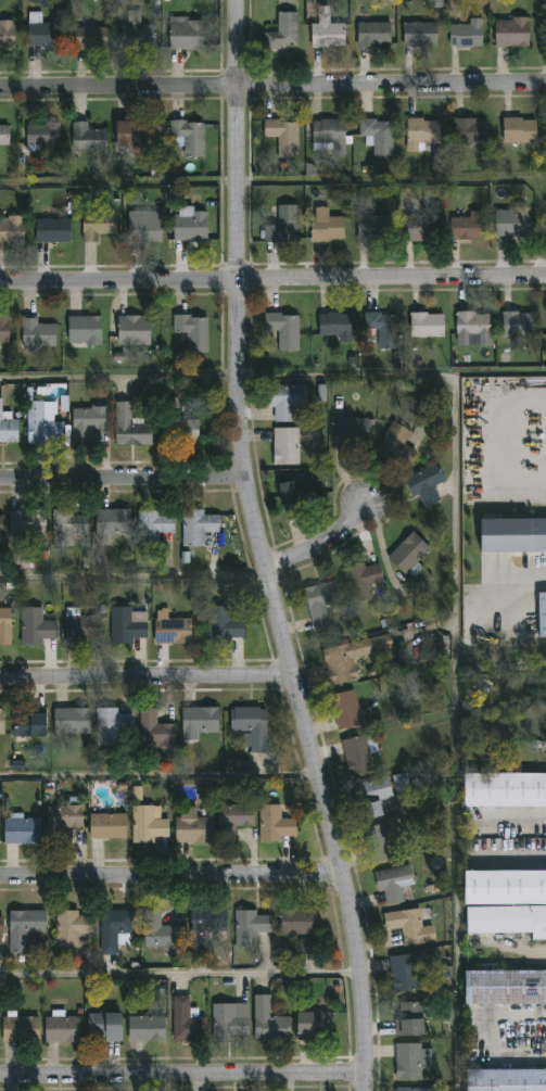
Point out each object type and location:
building: (436, 3)
building: (326, 33)
building: (282, 34)
building: (510, 34)
building: (465, 35)
building: (7, 36)
building: (43, 36)
building: (186, 36)
building: (419, 36)
building: (136, 37)
building: (372, 37)
building: (89, 39)
road: (272, 88)
building: (469, 131)
building: (518, 131)
building: (3, 135)
building: (41, 135)
building: (135, 135)
building: (421, 135)
building: (377, 136)
building: (188, 137)
building: (281, 137)
building: (328, 137)
building: (87, 139)
building: (439, 155)
building: (511, 223)
building: (190, 225)
building: (282, 226)
building: (325, 226)
building: (97, 227)
building: (144, 227)
building: (466, 228)
building: (373, 229)
building: (420, 229)
building: (11, 231)
building: (51, 231)
road: (272, 276)
building: (518, 324)
building: (472, 325)
building: (333, 326)
building: (426, 326)
building: (282, 330)
building: (383, 330)
building: (3, 331)
building: (84, 331)
building: (132, 331)
building: (192, 332)
building: (37, 335)
road: (119, 378)
building: (284, 401)
building: (86, 423)
building: (42, 424)
building: (128, 428)
building: (8, 429)
building: (179, 430)
building: (350, 432)
building: (284, 446)
building: (395, 446)
road: (120, 482)
building: (427, 484)
building: (295, 495)
building: (26, 522)
building: (112, 522)
building: (153, 524)
building: (0, 525)
building: (195, 525)
building: (67, 527)
building: (512, 535)
road: (320, 546)
road: (258, 549)
building: (407, 554)
building: (187, 557)
road: (515, 574)
road: (132, 575)
building: (420, 579)
building: (360, 581)
building: (319, 602)
building: (541, 614)
building: (4, 625)
building: (35, 625)
building: (128, 625)
building: (225, 625)
road: (455, 627)
building: (81, 629)
building: (169, 630)
building: (351, 658)
road: (145, 680)
building: (344, 710)
building: (71, 722)
building: (1, 723)
building: (198, 723)
building: (28, 725)
building: (111, 726)
building: (251, 728)
building: (153, 731)
building: (356, 756)
road: (157, 775)
building: (401, 783)
building: (504, 789)
building: (373, 799)
road: (518, 819)
building: (62, 821)
building: (231, 821)
building: (149, 824)
building: (274, 825)
building: (106, 826)
building: (191, 826)
building: (21, 832)
building: (379, 843)
road: (518, 855)
road: (169, 883)
building: (390, 887)
building: (504, 887)
building: (507, 921)
building: (295, 922)
building: (0, 926)
building: (247, 927)
building: (408, 927)
building: (69, 928)
building: (23, 929)
building: (113, 929)
building: (207, 931)
building: (157, 934)
building: (306, 947)
road: (178, 974)
building: (404, 974)
building: (505, 987)
building: (407, 1019)
building: (230, 1022)
building: (268, 1022)
building: (186, 1023)
building: (318, 1026)
building: (103, 1027)
building: (18, 1029)
building: (61, 1029)
building: (145, 1029)
road: (490, 1038)
building: (409, 1061)
road: (181, 1077)
building: (505, 1080)
building: (411, 1089)

